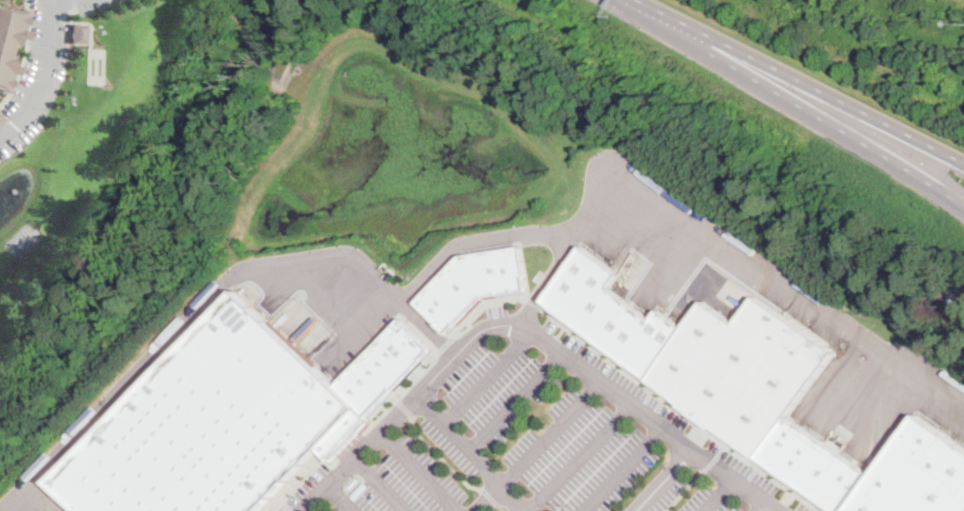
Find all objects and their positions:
road: (56, 1)
parking lot: (89, 5)
building: (78, 32)
building: (8, 41)
parking lot: (37, 73)
road: (42, 74)
road: (802, 80)
road: (795, 101)
building: (2, 117)
road: (454, 252)
road: (553, 271)
building: (477, 283)
parking lot: (498, 310)
building: (643, 325)
road: (537, 326)
road: (431, 327)
building: (387, 366)
road: (490, 374)
building: (762, 376)
road: (519, 399)
parking lot: (489, 401)
parking lot: (663, 418)
building: (218, 424)
road: (556, 431)
building: (786, 442)
road: (475, 453)
parking lot: (584, 454)
road: (584, 455)
building: (803, 455)
road: (441, 457)
road: (715, 462)
road: (626, 468)
road: (422, 471)
building: (918, 474)
building: (835, 478)
road: (668, 479)
parking lot: (403, 482)
road: (383, 484)
parking lot: (304, 488)
building: (359, 490)
road: (689, 490)
parking lot: (675, 493)
road: (723, 494)
road: (492, 496)
road: (492, 497)
road: (340, 499)
parking lot: (713, 501)
road: (769, 506)
road: (506, 508)

